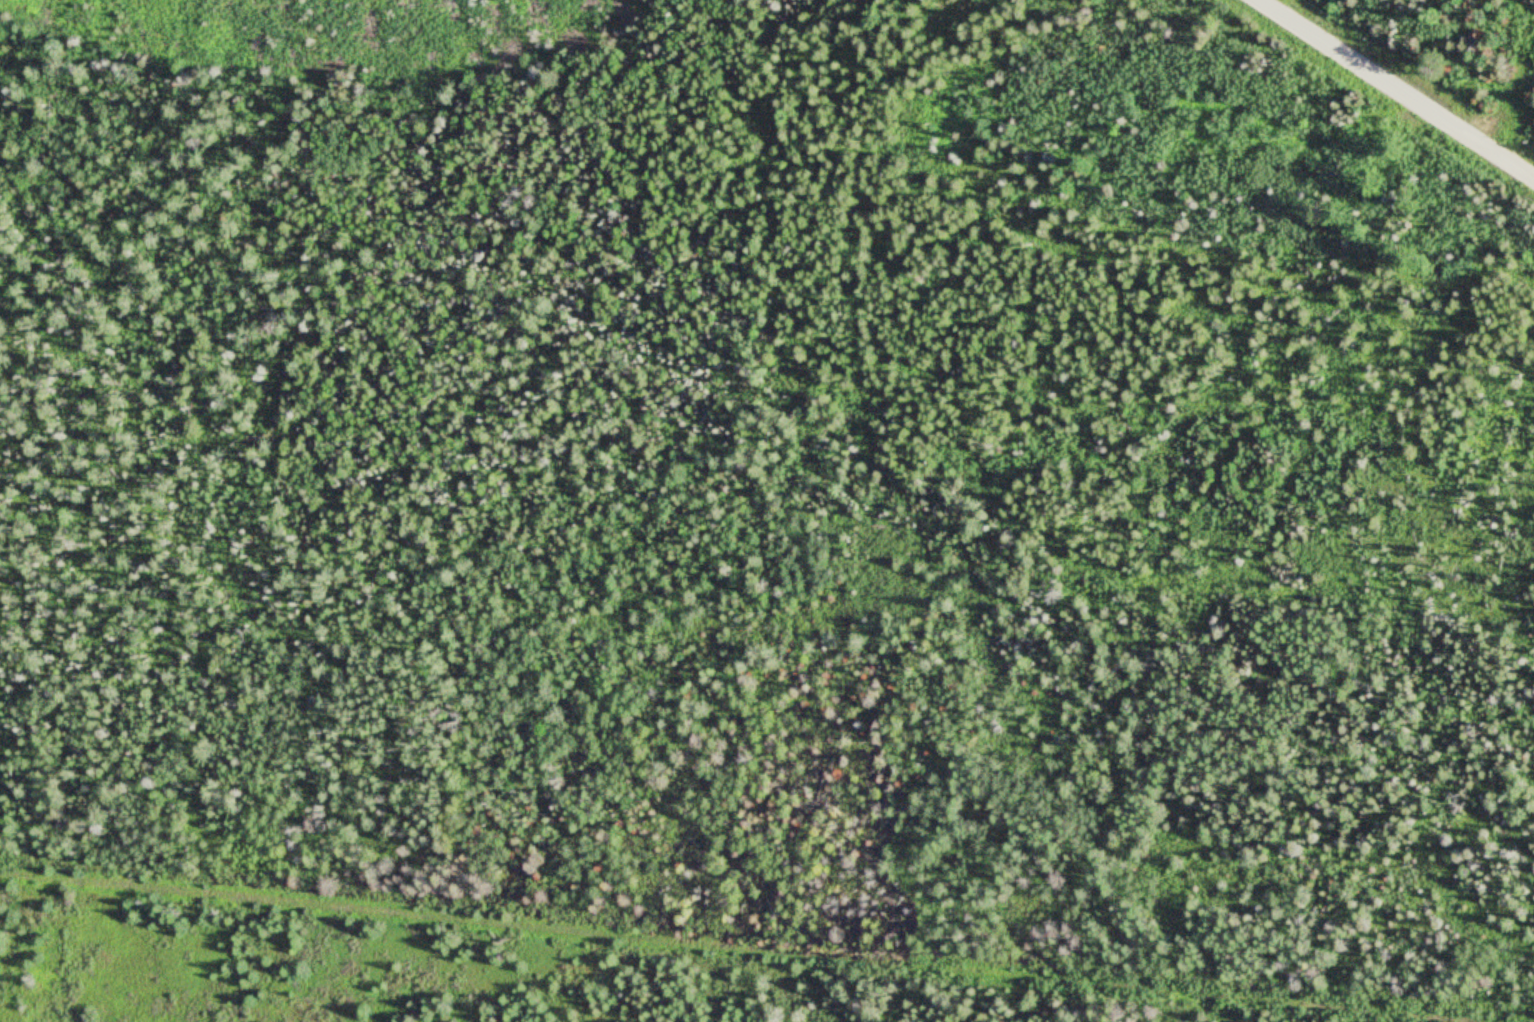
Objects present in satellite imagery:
road: (1400, 86)
railway: (750, 944)
building: (1300, 1004)

